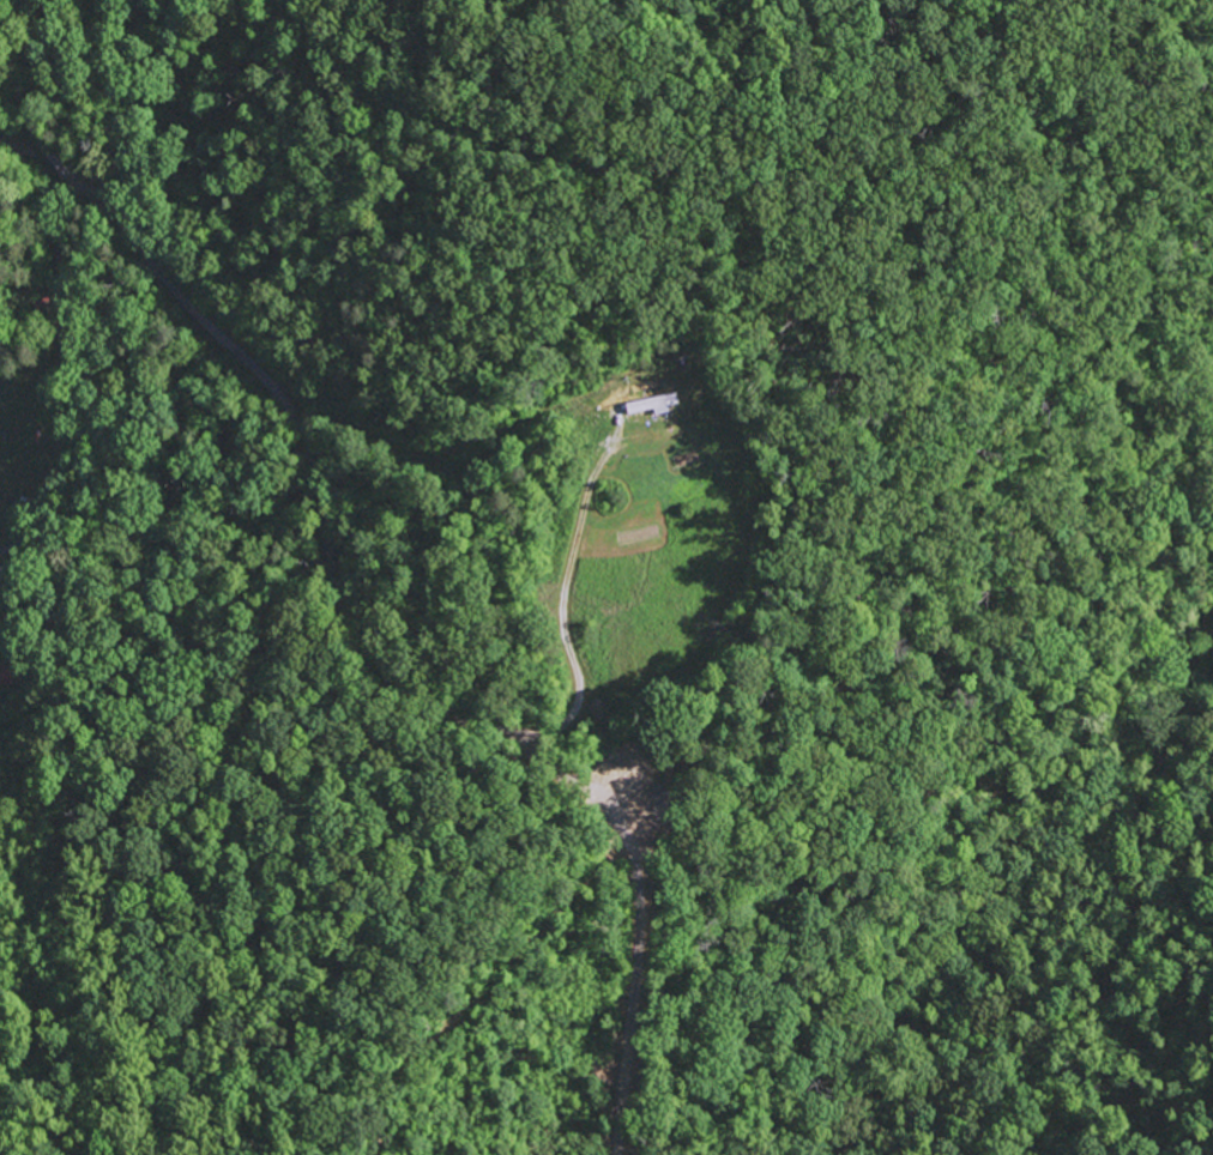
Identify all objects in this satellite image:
road: (65, 379)
building: (653, 404)
road: (326, 513)

